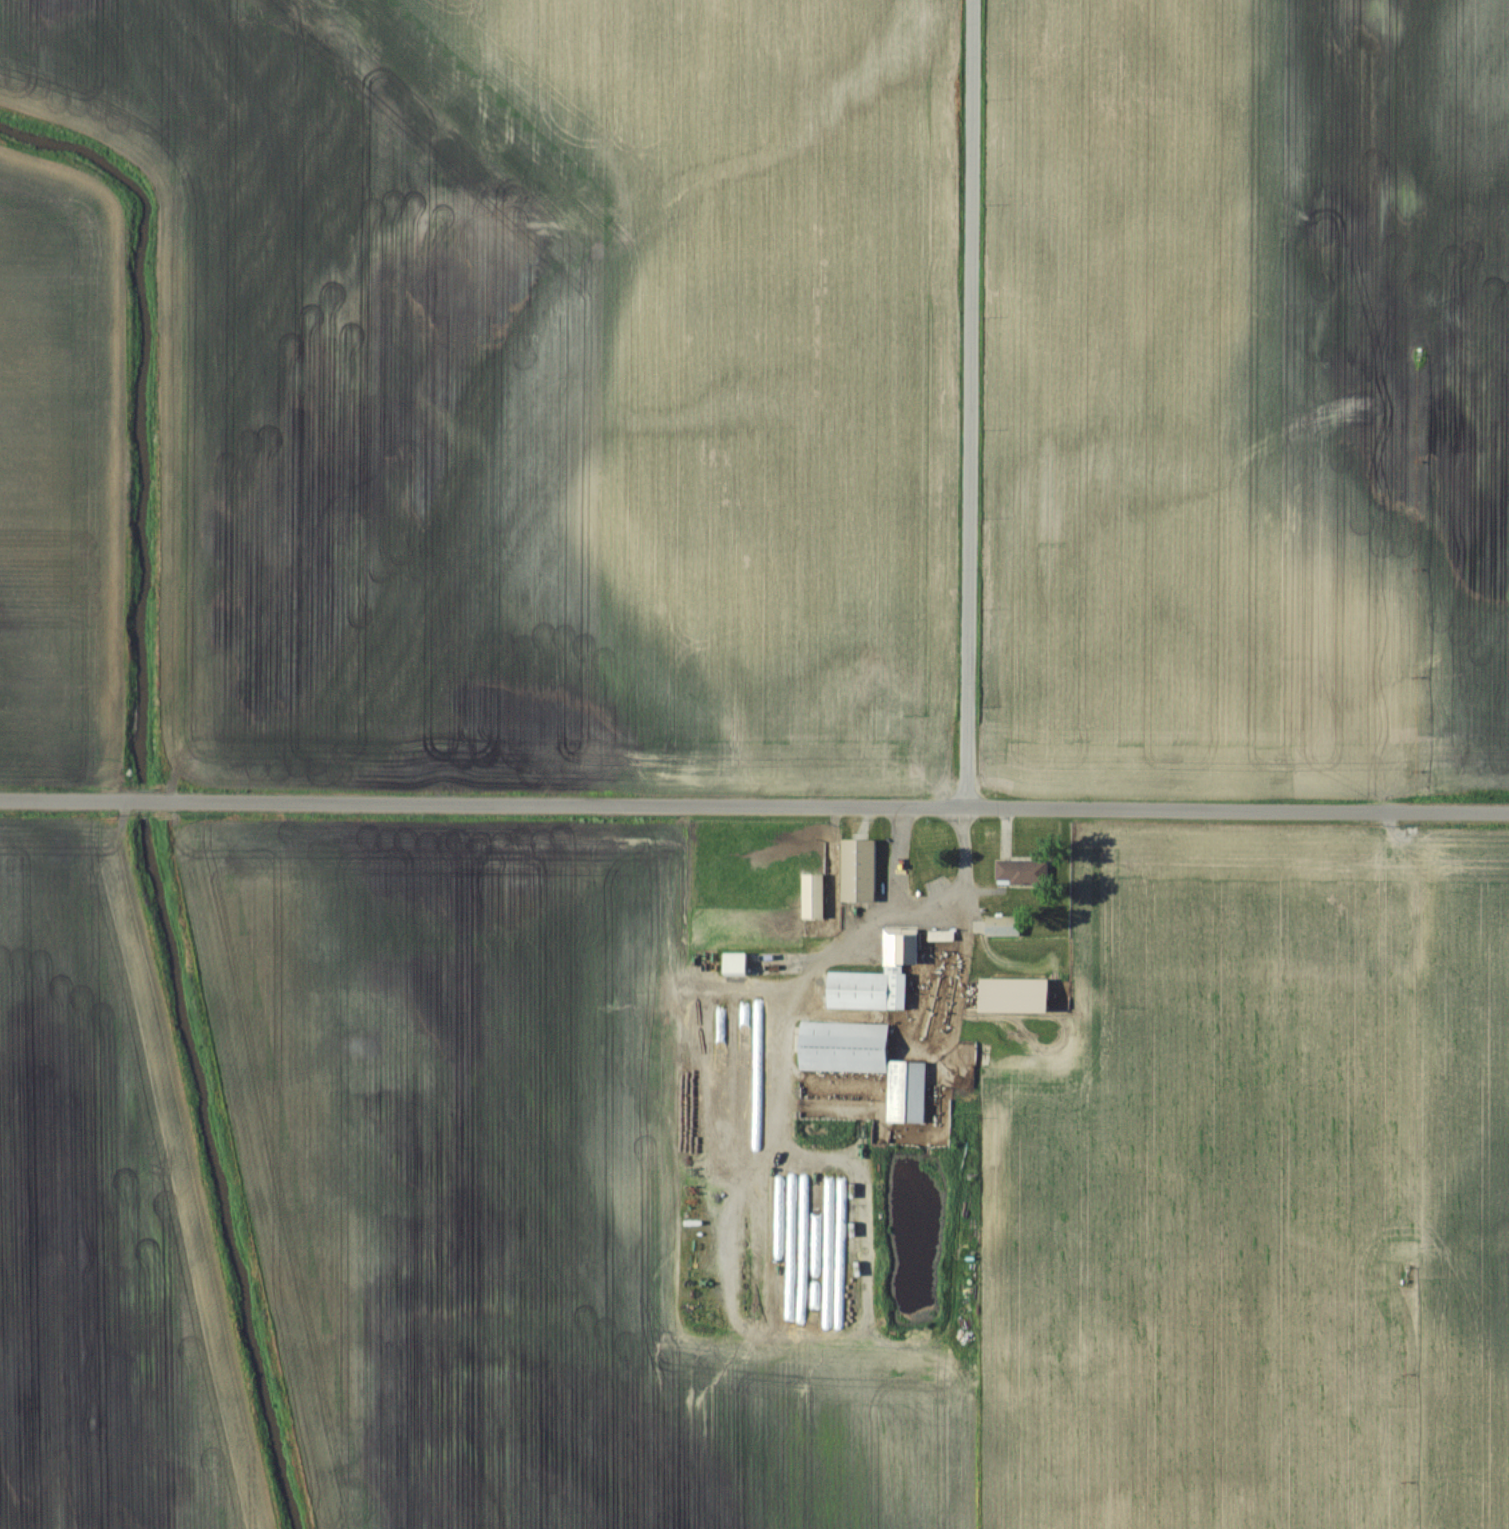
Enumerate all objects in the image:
road: (964, 402)
road: (754, 803)
building: (857, 869)
building: (1020, 870)
building: (907, 878)
building: (811, 896)
road: (923, 903)
building: (1002, 926)
building: (900, 947)
building: (734, 963)
building: (866, 990)
building: (1013, 994)
building: (864, 1061)

